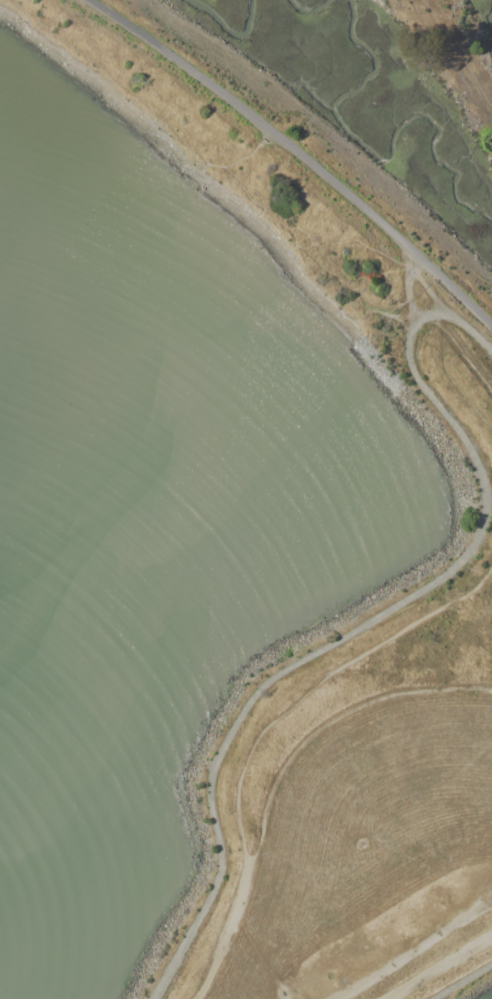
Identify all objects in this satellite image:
road: (295, 153)
road: (222, 169)
road: (445, 369)
park: (472, 499)
road: (371, 620)
road: (292, 705)
road: (329, 722)
road: (415, 951)
road: (215, 964)
road: (438, 966)
road: (465, 982)

